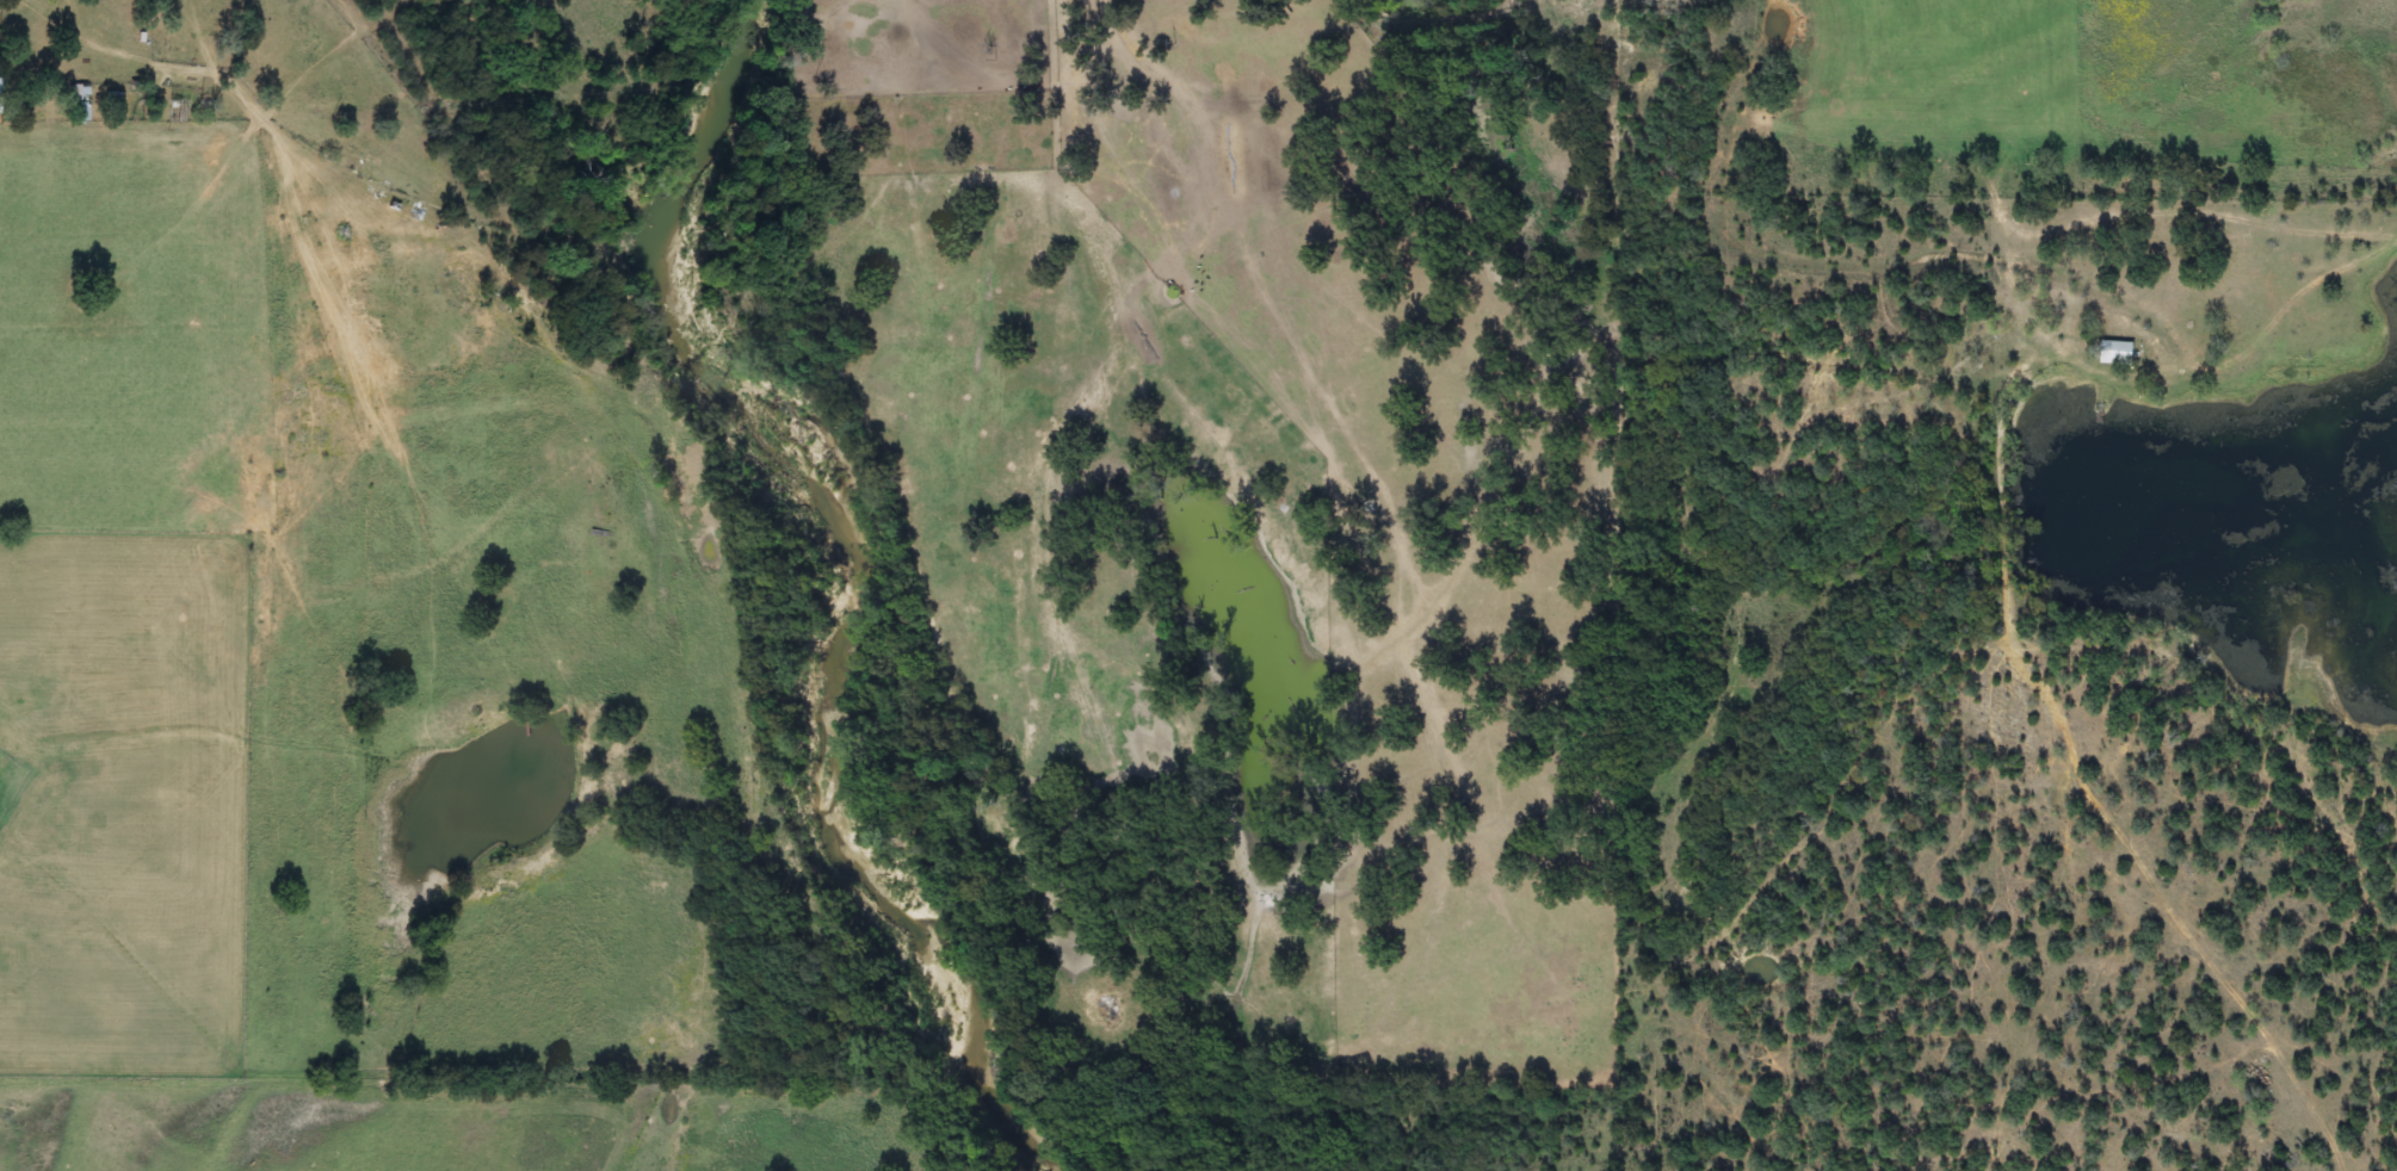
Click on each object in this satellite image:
building: (113, 101)
crop: (1173, 101)
building: (80, 104)
building: (179, 111)
building: (2121, 353)

